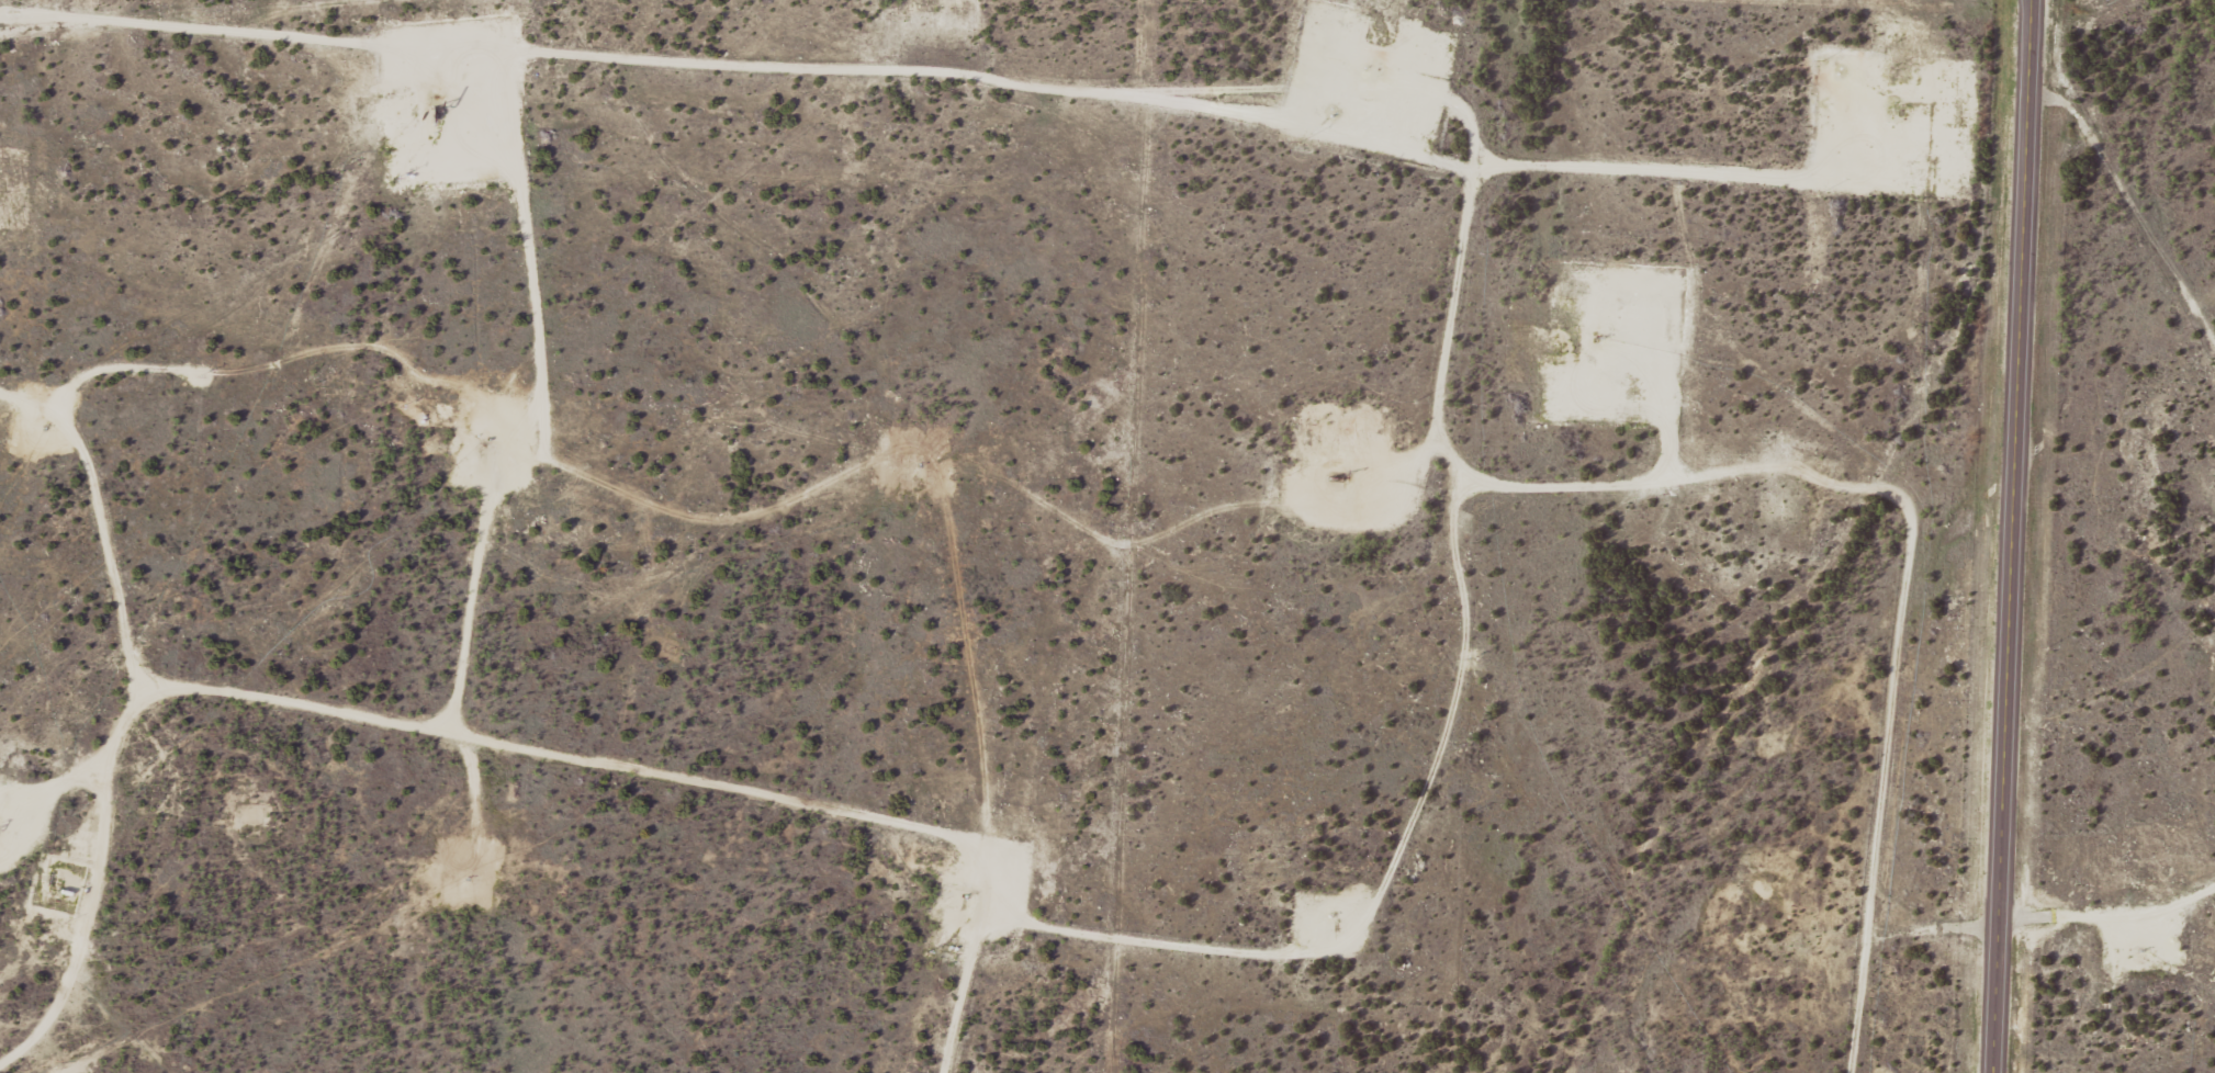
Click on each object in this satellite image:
road: (2033, 3)
road: (1399, 99)
road: (2129, 210)
road: (88, 483)
road: (29, 508)
road: (2015, 535)
road: (747, 675)
road: (1735, 687)
road: (587, 795)

